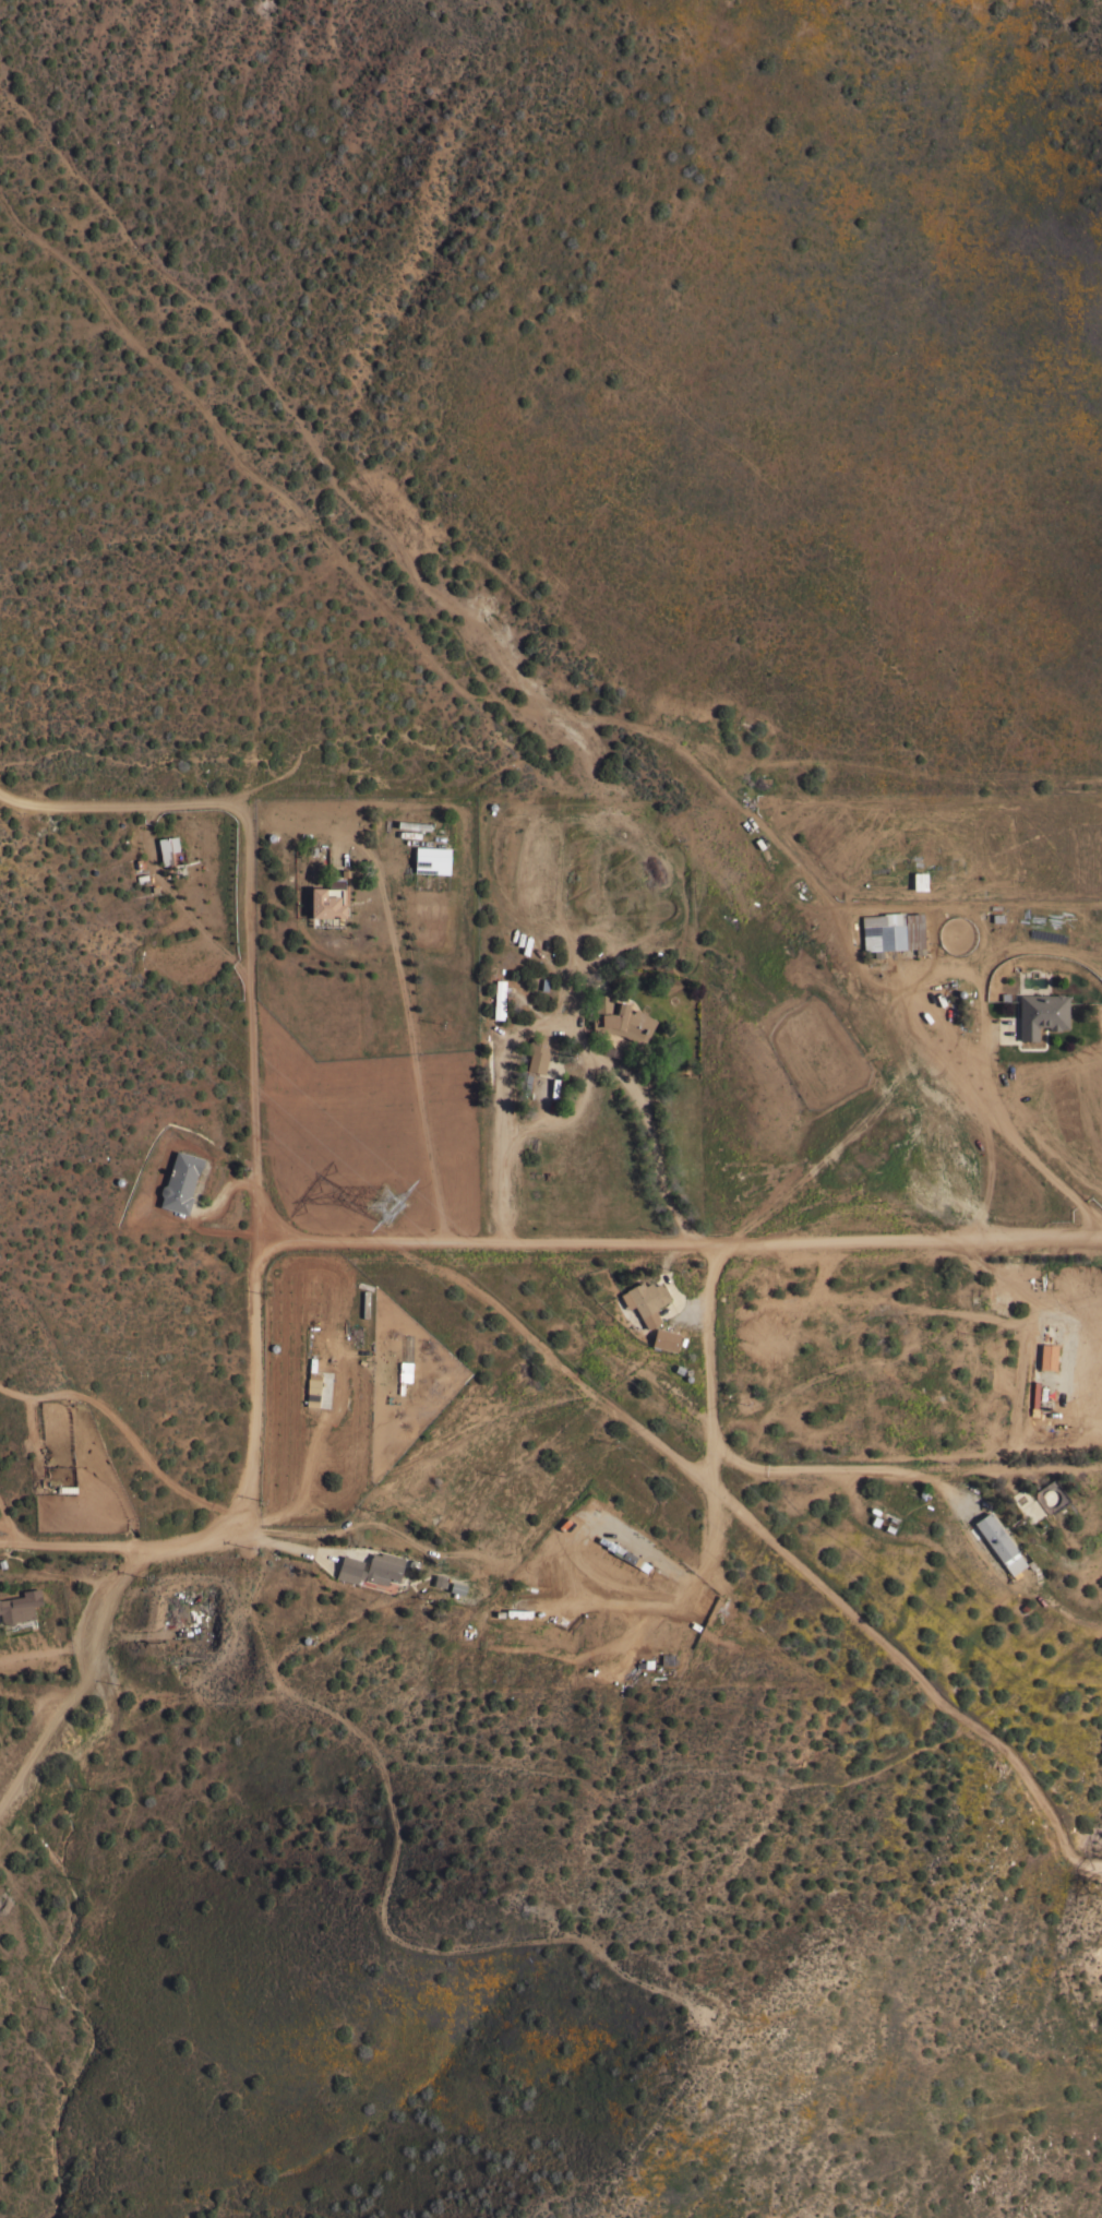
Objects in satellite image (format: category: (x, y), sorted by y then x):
road: (122, 808)
building: (167, 845)
building: (431, 859)
building: (917, 881)
building: (328, 898)
building: (890, 938)
building: (499, 998)
building: (1041, 1013)
building: (621, 1018)
road: (562, 1025)
road: (406, 1026)
road: (979, 1026)
building: (537, 1054)
road: (566, 1114)
building: (180, 1181)
power tower: (393, 1211)
road: (678, 1247)
road: (254, 1260)
road: (1027, 1292)
building: (645, 1300)
building: (664, 1338)
building: (1037, 1348)
building: (311, 1383)
road: (1052, 1392)
road: (415, 1466)
road: (805, 1472)
road: (11, 1527)
road: (266, 1541)
building: (996, 1542)
road: (26, 1550)
building: (371, 1567)
building: (439, 1581)
building: (457, 1587)
building: (20, 1606)
road: (1066, 1613)
road: (112, 1621)
road: (454, 1766)

